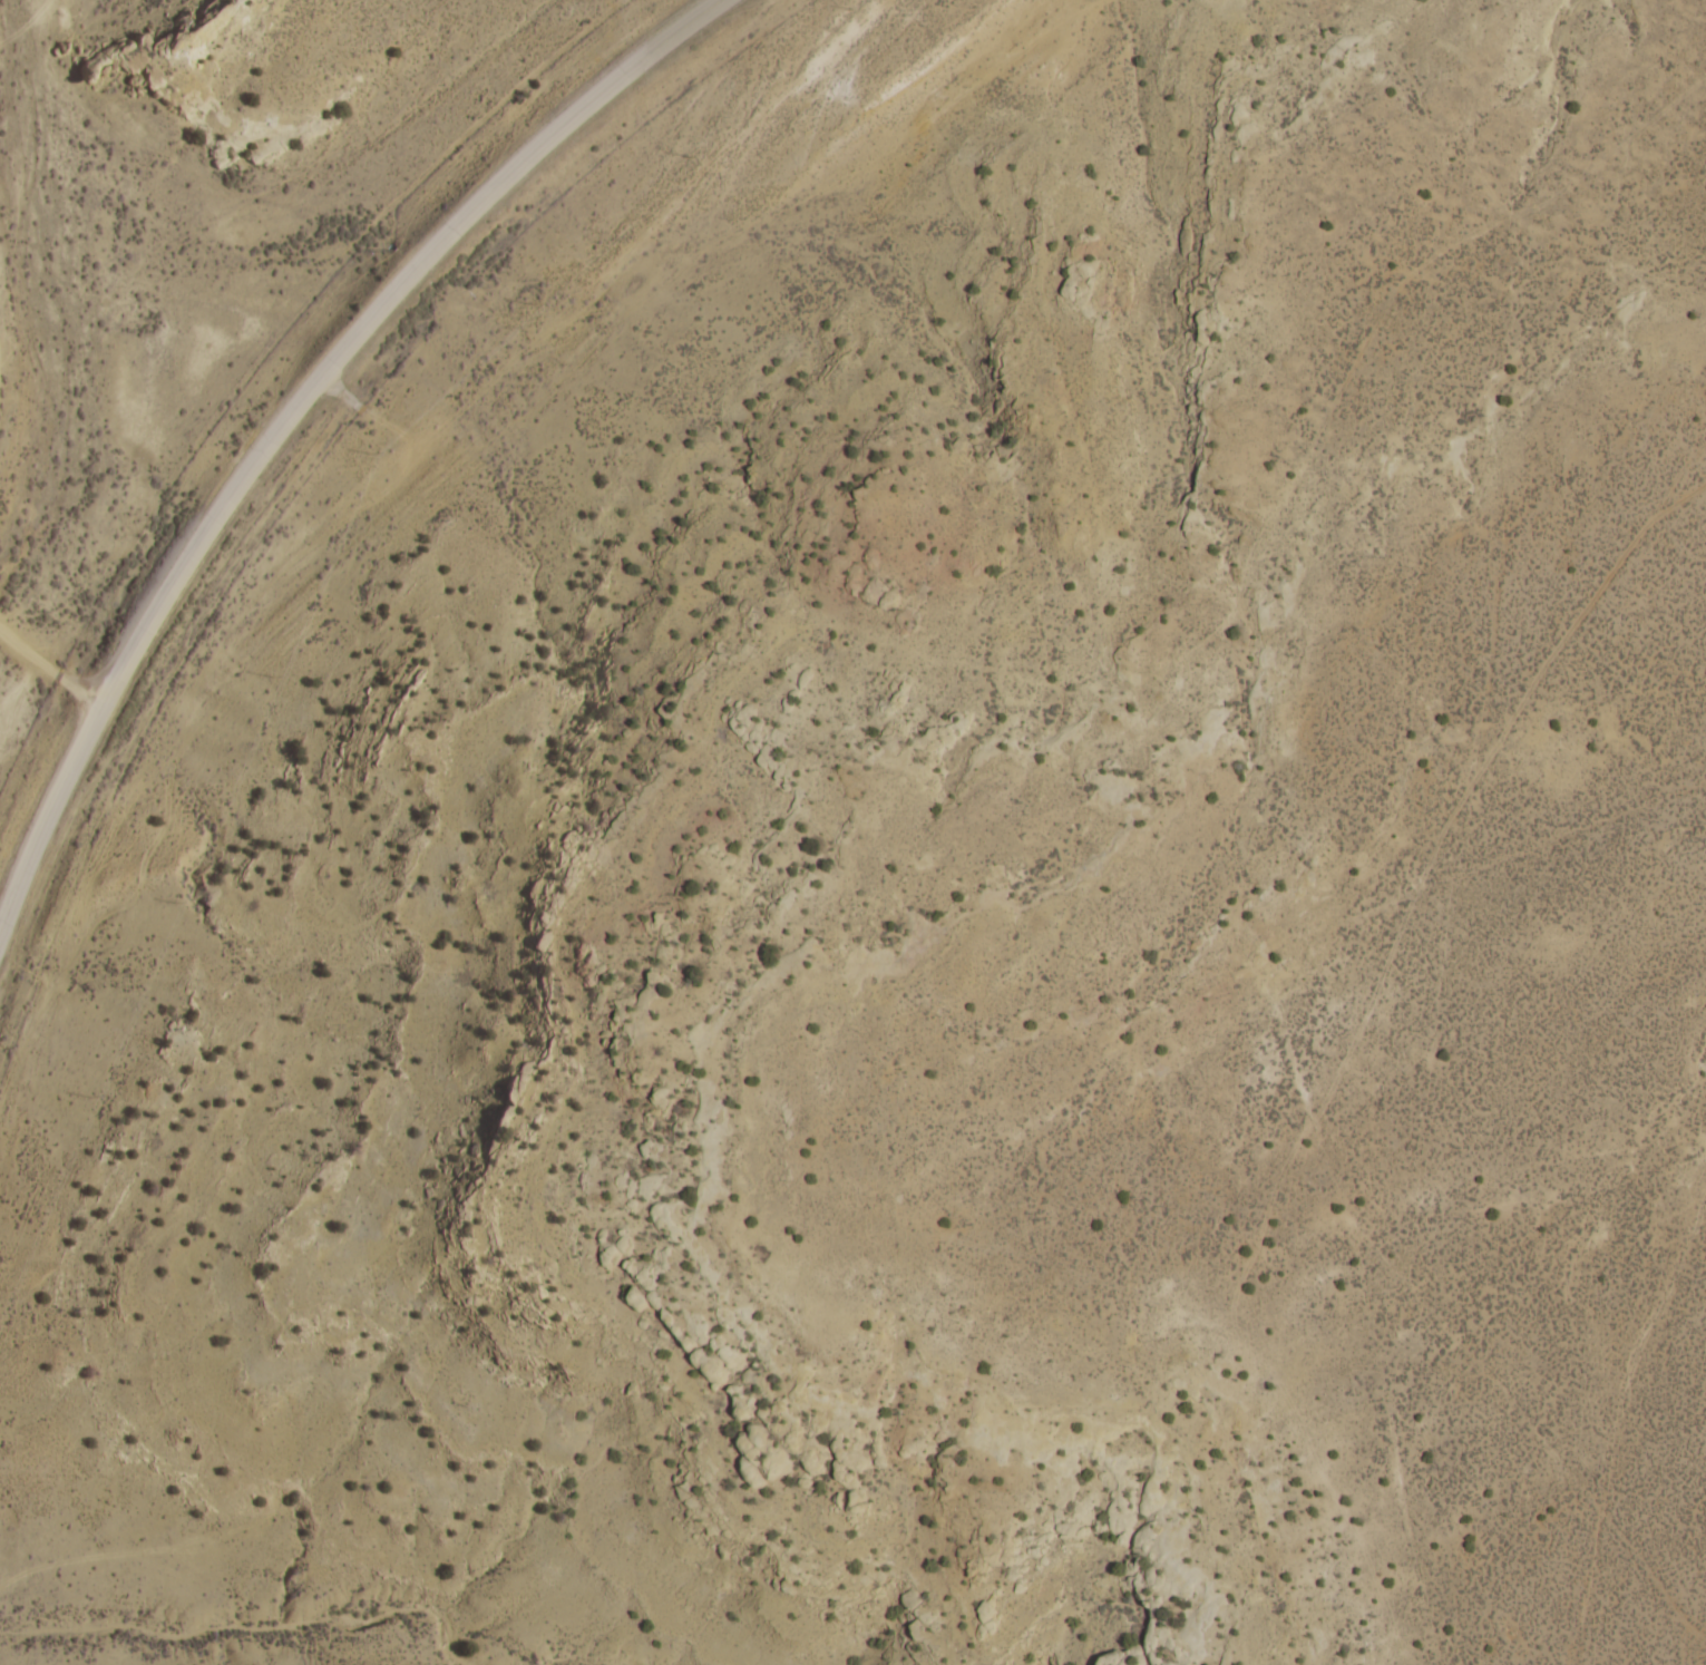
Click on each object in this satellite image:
road: (286, 409)
road: (47, 672)
road: (1688, 1646)

